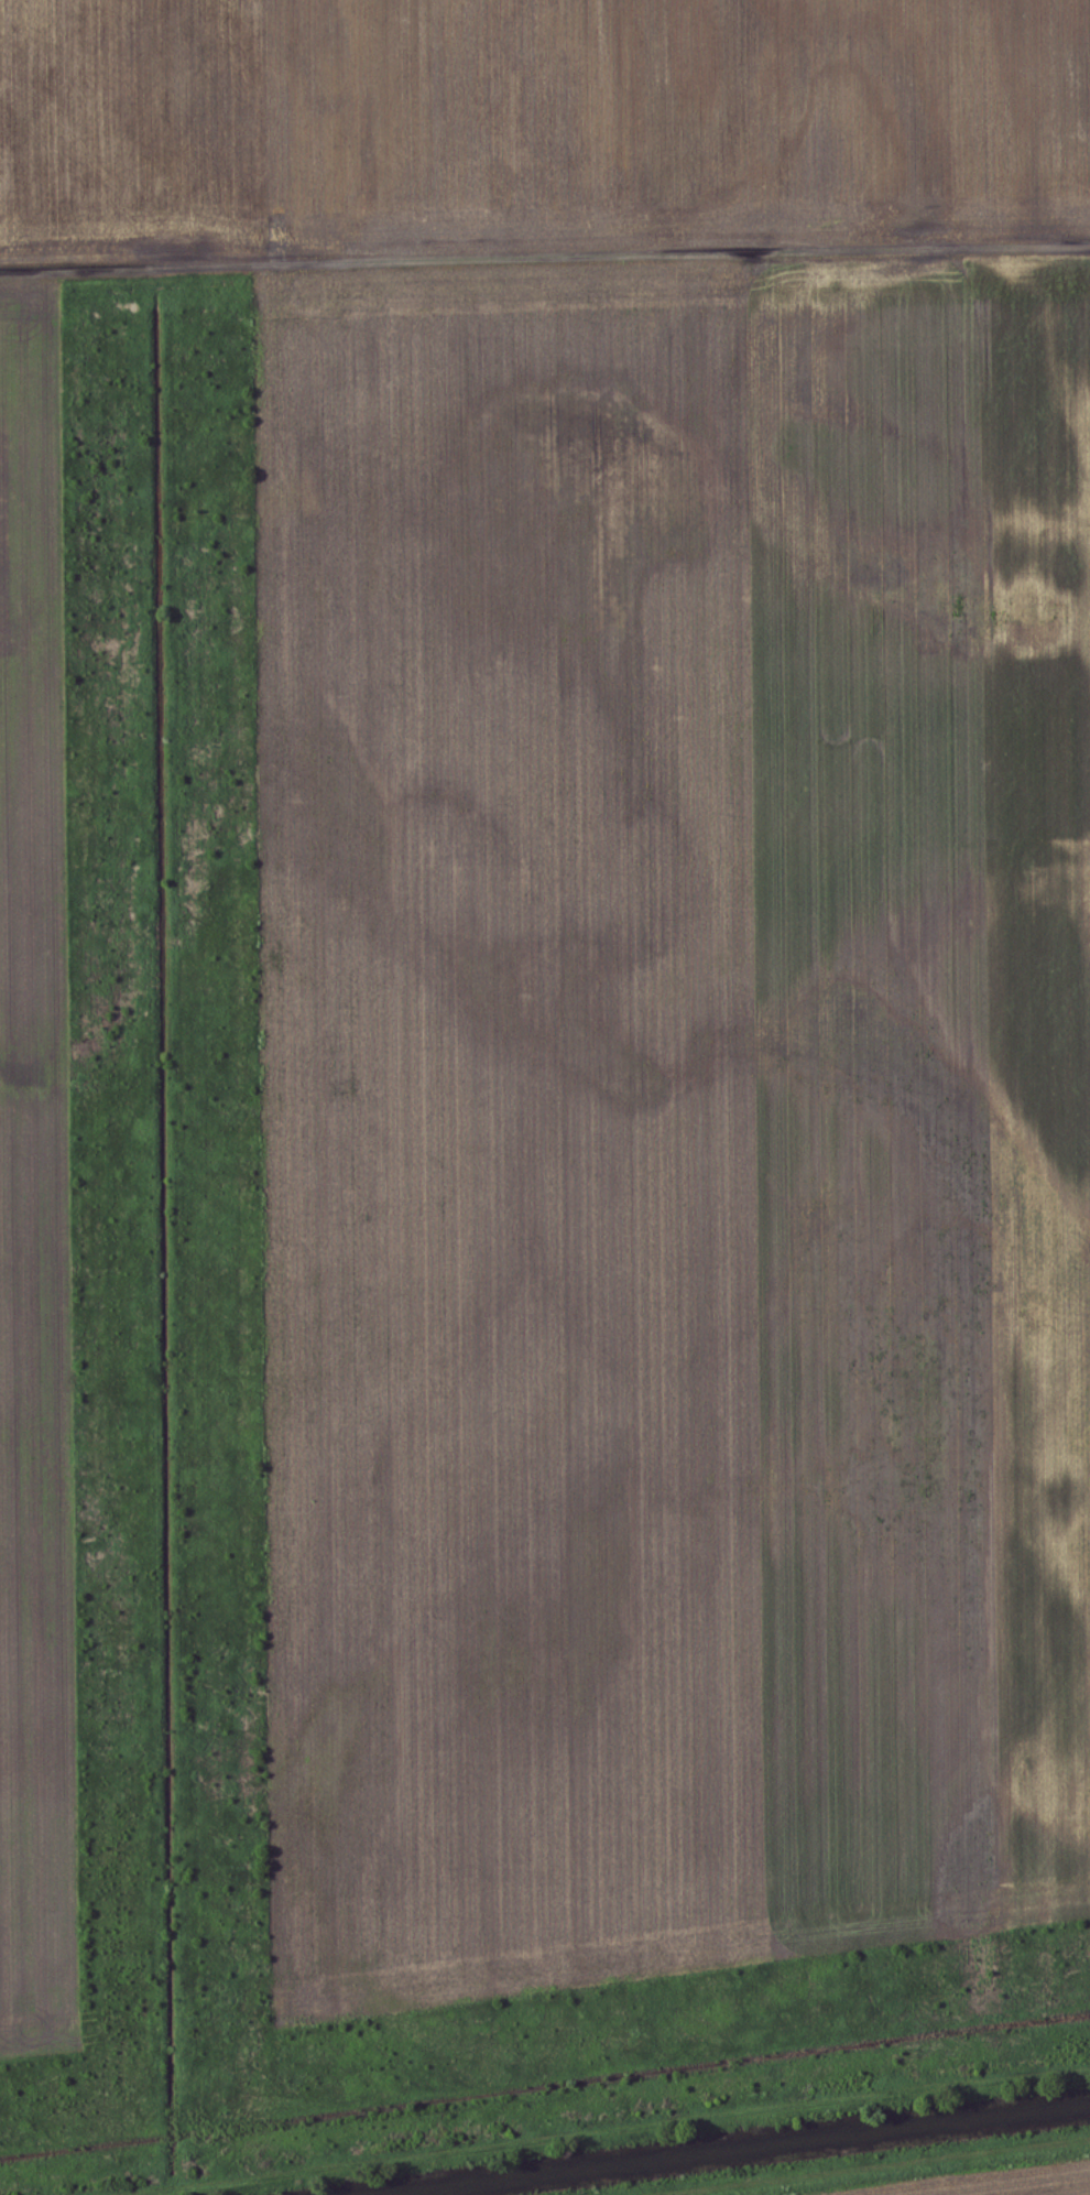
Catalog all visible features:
road: (545, 238)

